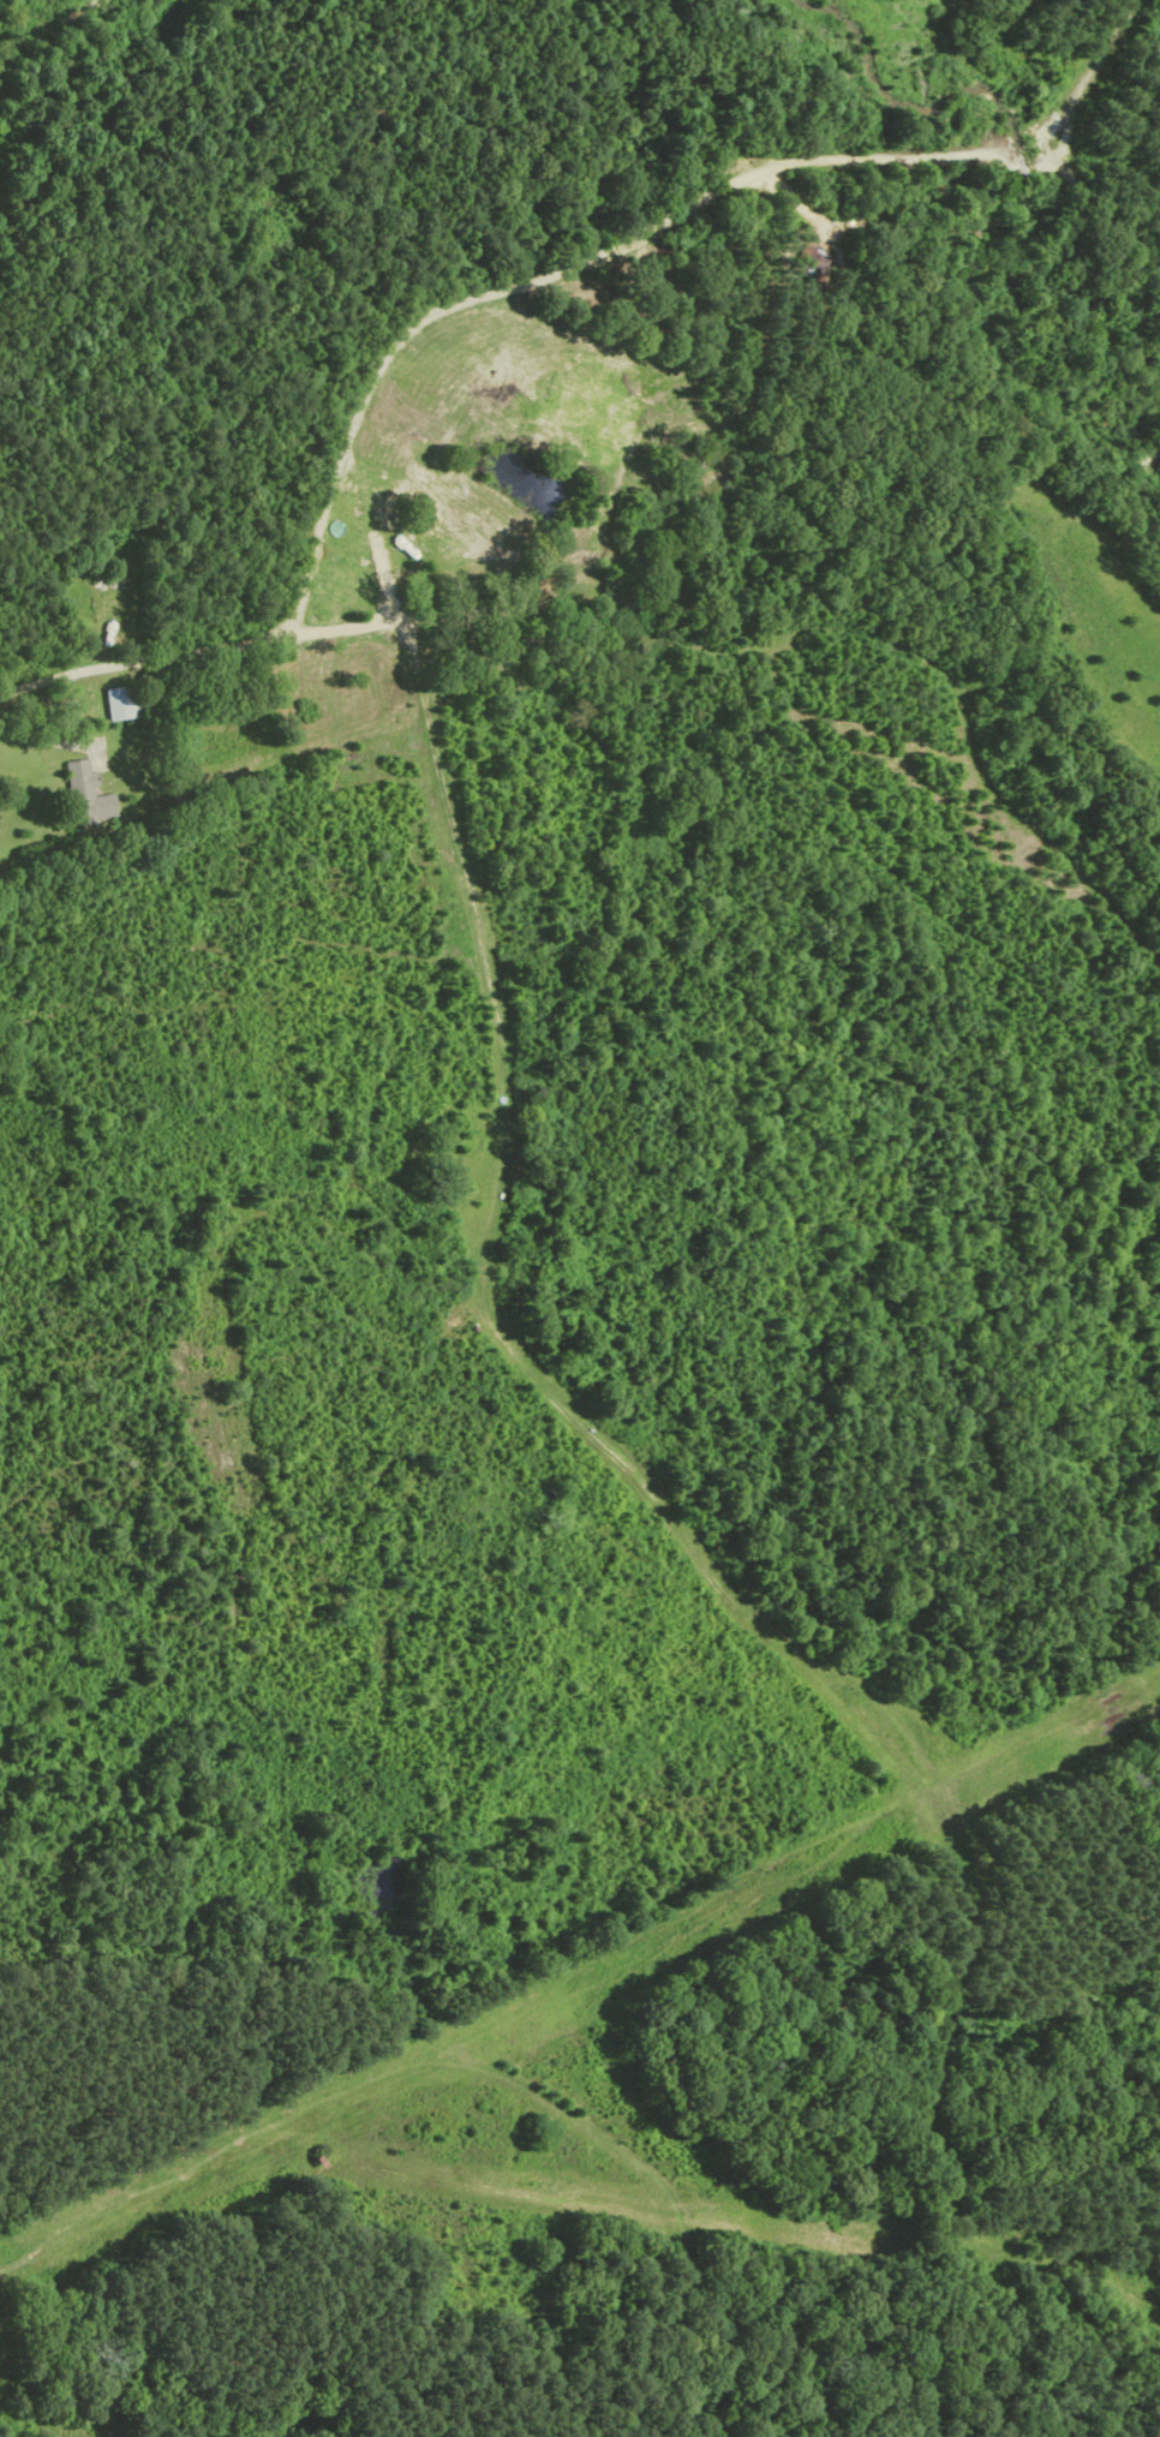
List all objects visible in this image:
building: (811, 264)
road: (488, 299)
building: (681, 462)
building: (119, 705)
building: (85, 798)

